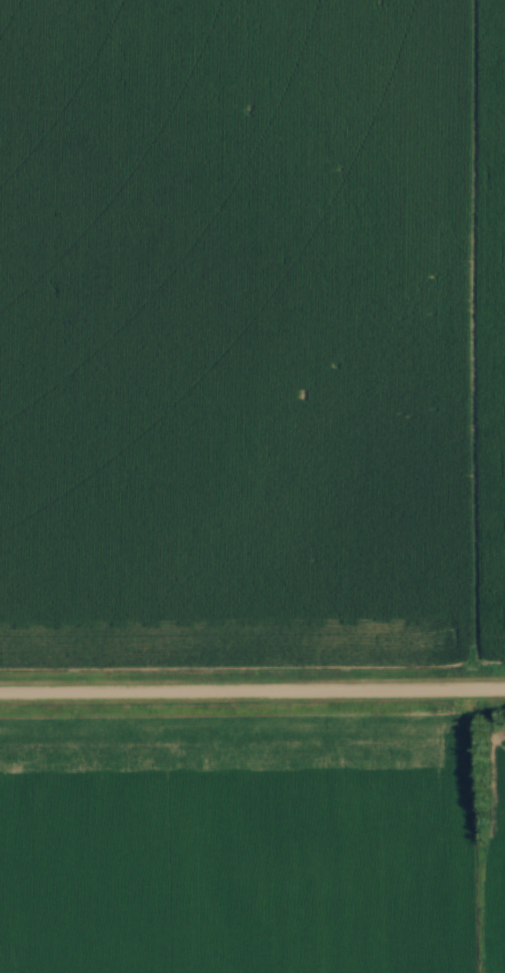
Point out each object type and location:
road: (252, 699)

